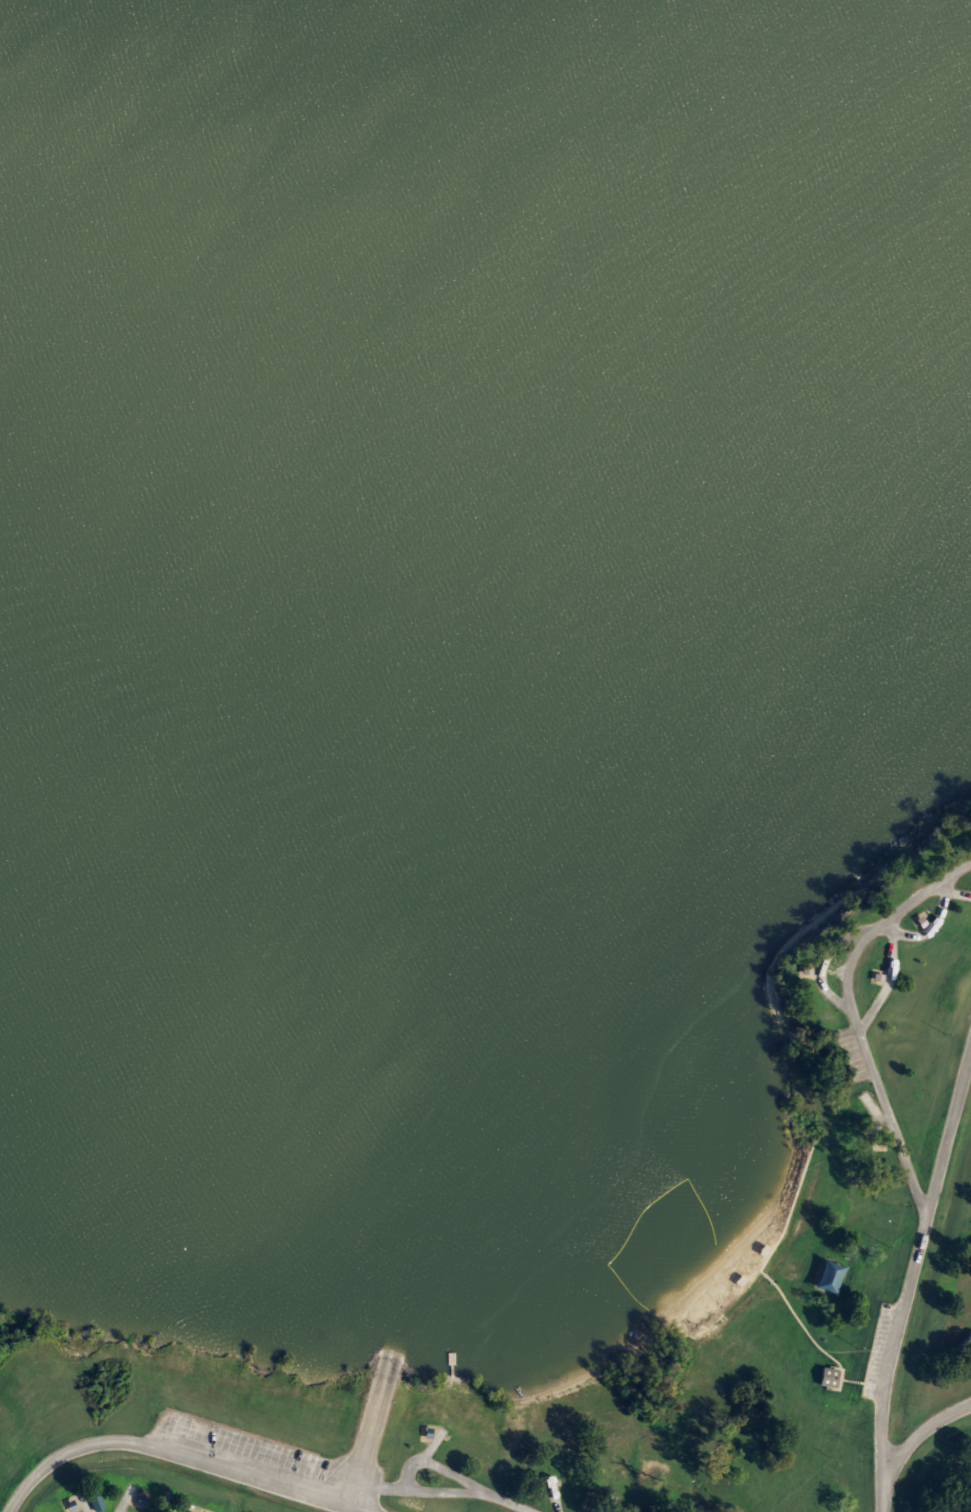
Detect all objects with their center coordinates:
road: (957, 896)
road: (927, 930)
road: (822, 967)
road: (885, 983)
road: (851, 1015)
road: (946, 1132)
building: (829, 1277)
road: (884, 1363)
building: (826, 1376)
road: (919, 1434)
road: (175, 1452)
road: (434, 1492)
road: (500, 1501)
building: (94, 1502)
building: (187, 1511)

